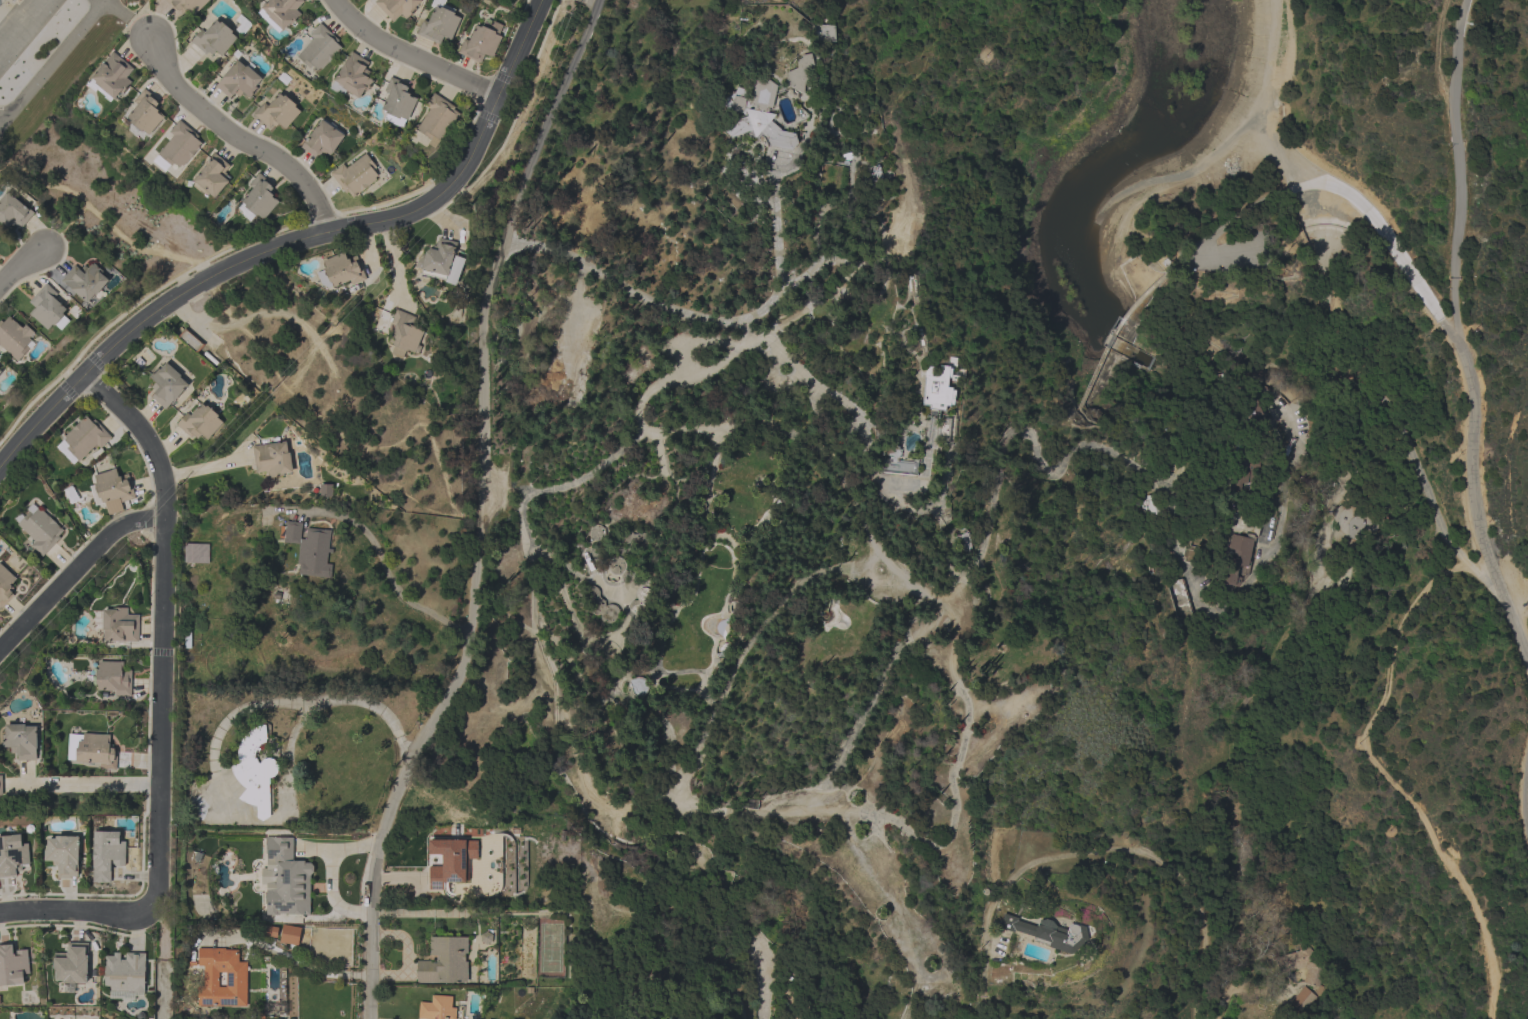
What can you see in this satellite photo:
building: (12, 0)
road: (100, 2)
building: (186, 5)
building: (397, 7)
building: (280, 12)
road: (131, 21)
building: (439, 23)
building: (242, 24)
road: (22, 26)
parking lot: (22, 27)
building: (822, 32)
building: (214, 38)
building: (481, 41)
building: (320, 48)
road: (411, 56)
road: (53, 62)
building: (800, 73)
building: (111, 76)
building: (353, 76)
building: (238, 80)
building: (398, 101)
building: (277, 111)
building: (146, 112)
building: (754, 114)
building: (437, 119)
building: (322, 139)
road: (239, 141)
building: (178, 146)
road: (1458, 169)
building: (213, 175)
building: (355, 175)
building: (874, 177)
road: (1349, 193)
building: (258, 198)
building: (13, 211)
road: (292, 241)
road: (874, 257)
building: (438, 260)
road: (20, 269)
building: (340, 270)
building: (85, 281)
road: (621, 287)
building: (47, 307)
dam: (1112, 331)
building: (403, 333)
building: (14, 337)
building: (190, 340)
building: (0, 371)
building: (166, 384)
road: (662, 386)
building: (937, 389)
road: (831, 394)
building: (199, 422)
road: (1028, 433)
building: (83, 440)
building: (272, 458)
building: (896, 462)
building: (1242, 472)
road: (1471, 472)
building: (111, 487)
building: (325, 490)
building: (1153, 505)
road: (479, 509)
building: (738, 514)
building: (1350, 524)
building: (39, 529)
building: (596, 532)
building: (632, 538)
building: (965, 541)
building: (309, 548)
building: (195, 553)
building: (1236, 560)
building: (616, 566)
road: (75, 569)
road: (384, 575)
building: (5, 585)
building: (1179, 598)
road: (1519, 598)
building: (640, 600)
building: (600, 605)
road: (1519, 624)
building: (119, 625)
road: (165, 626)
road: (745, 652)
building: (113, 677)
road: (352, 700)
building: (21, 740)
building: (94, 750)
road: (1377, 766)
building: (255, 771)
building: (1, 785)
road: (88, 785)
building: (740, 802)
road: (762, 811)
road: (1093, 850)
building: (12, 854)
building: (63, 854)
building: (107, 854)
building: (448, 861)
road: (328, 874)
building: (287, 879)
road: (76, 911)
building: (266, 930)
building: (1048, 933)
building: (289, 934)
road: (292, 959)
building: (445, 961)
building: (72, 963)
building: (1301, 964)
building: (12, 965)
building: (125, 975)
building: (236, 979)
building: (1304, 997)
road: (742, 1003)
building: (437, 1008)
building: (271, 1010)

